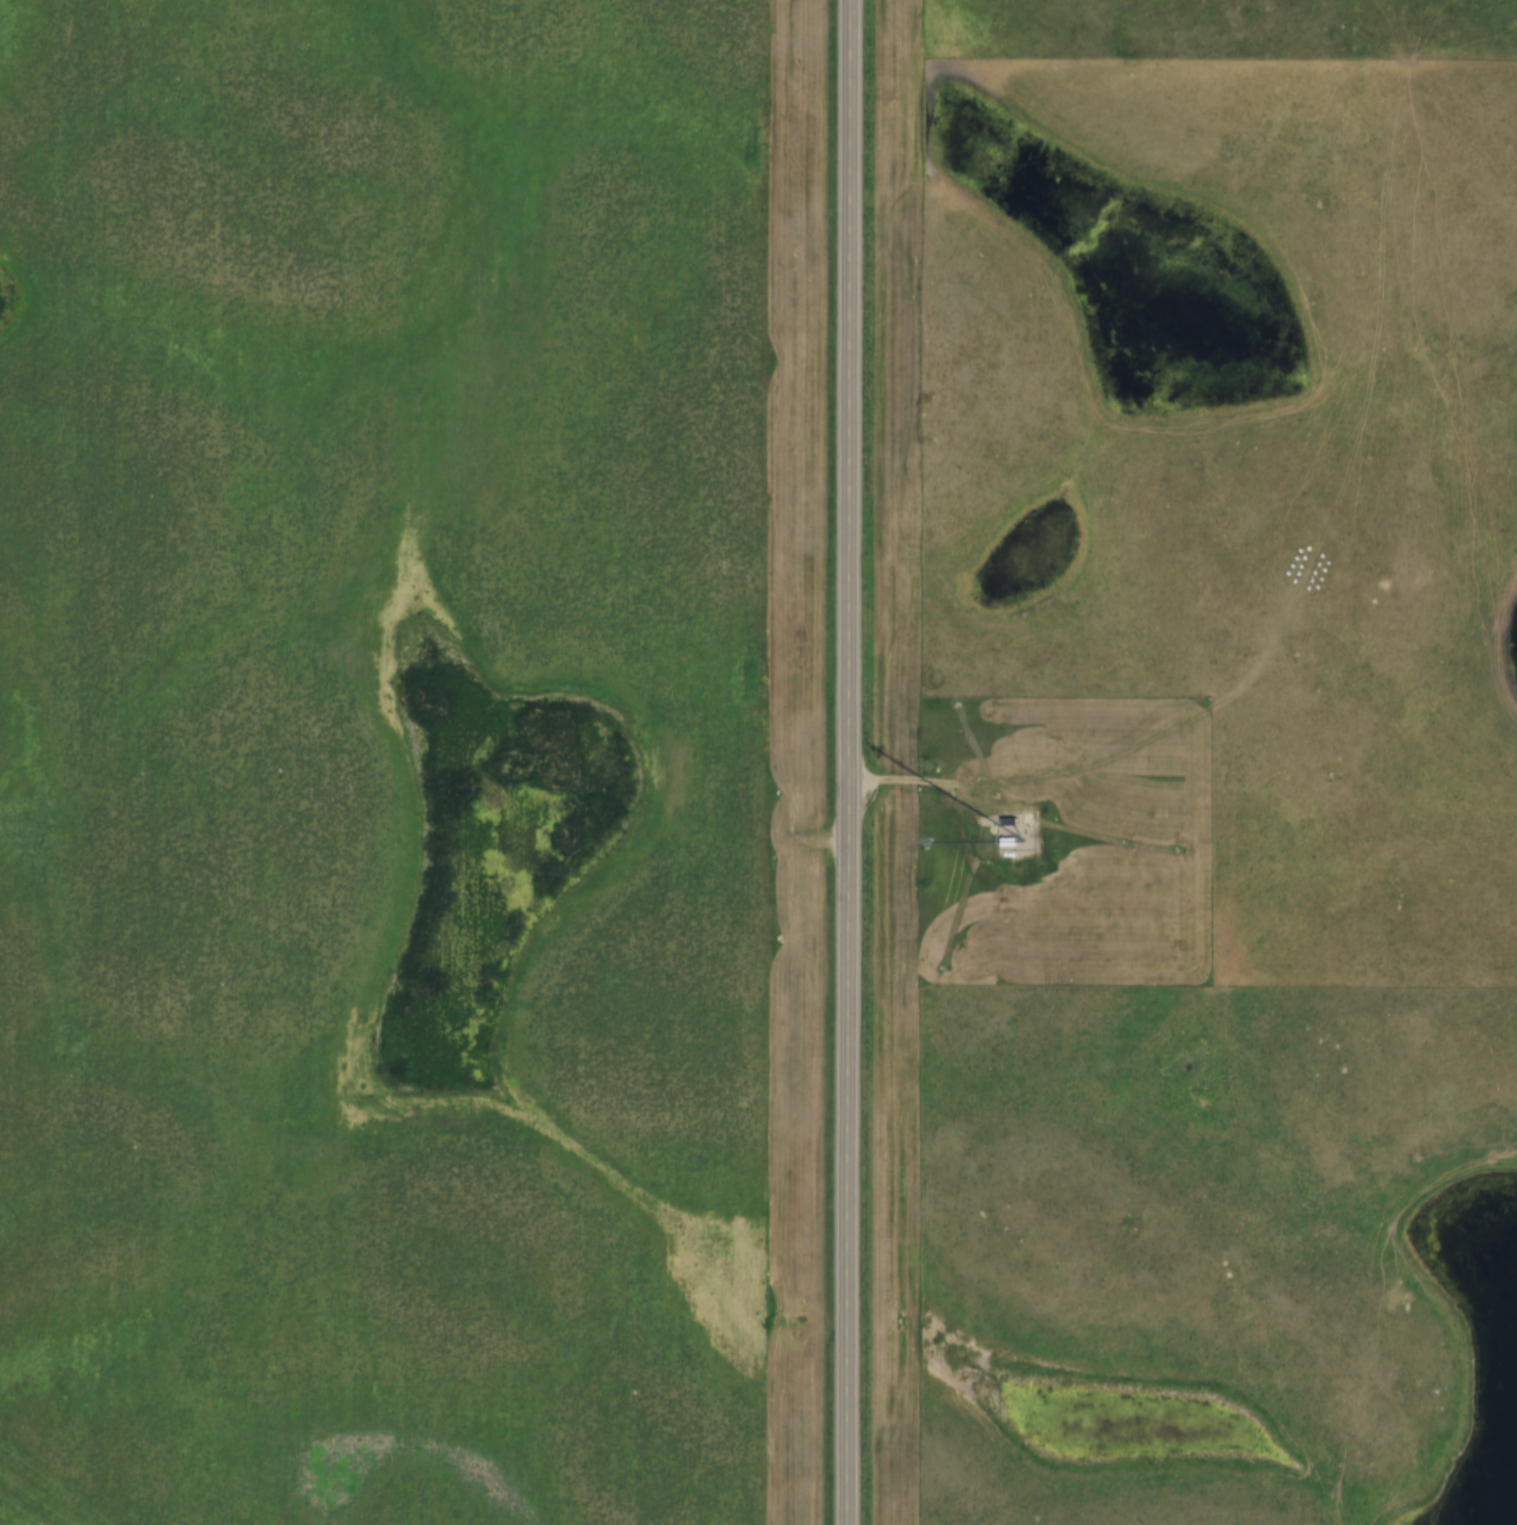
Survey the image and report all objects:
road: (850, 762)

